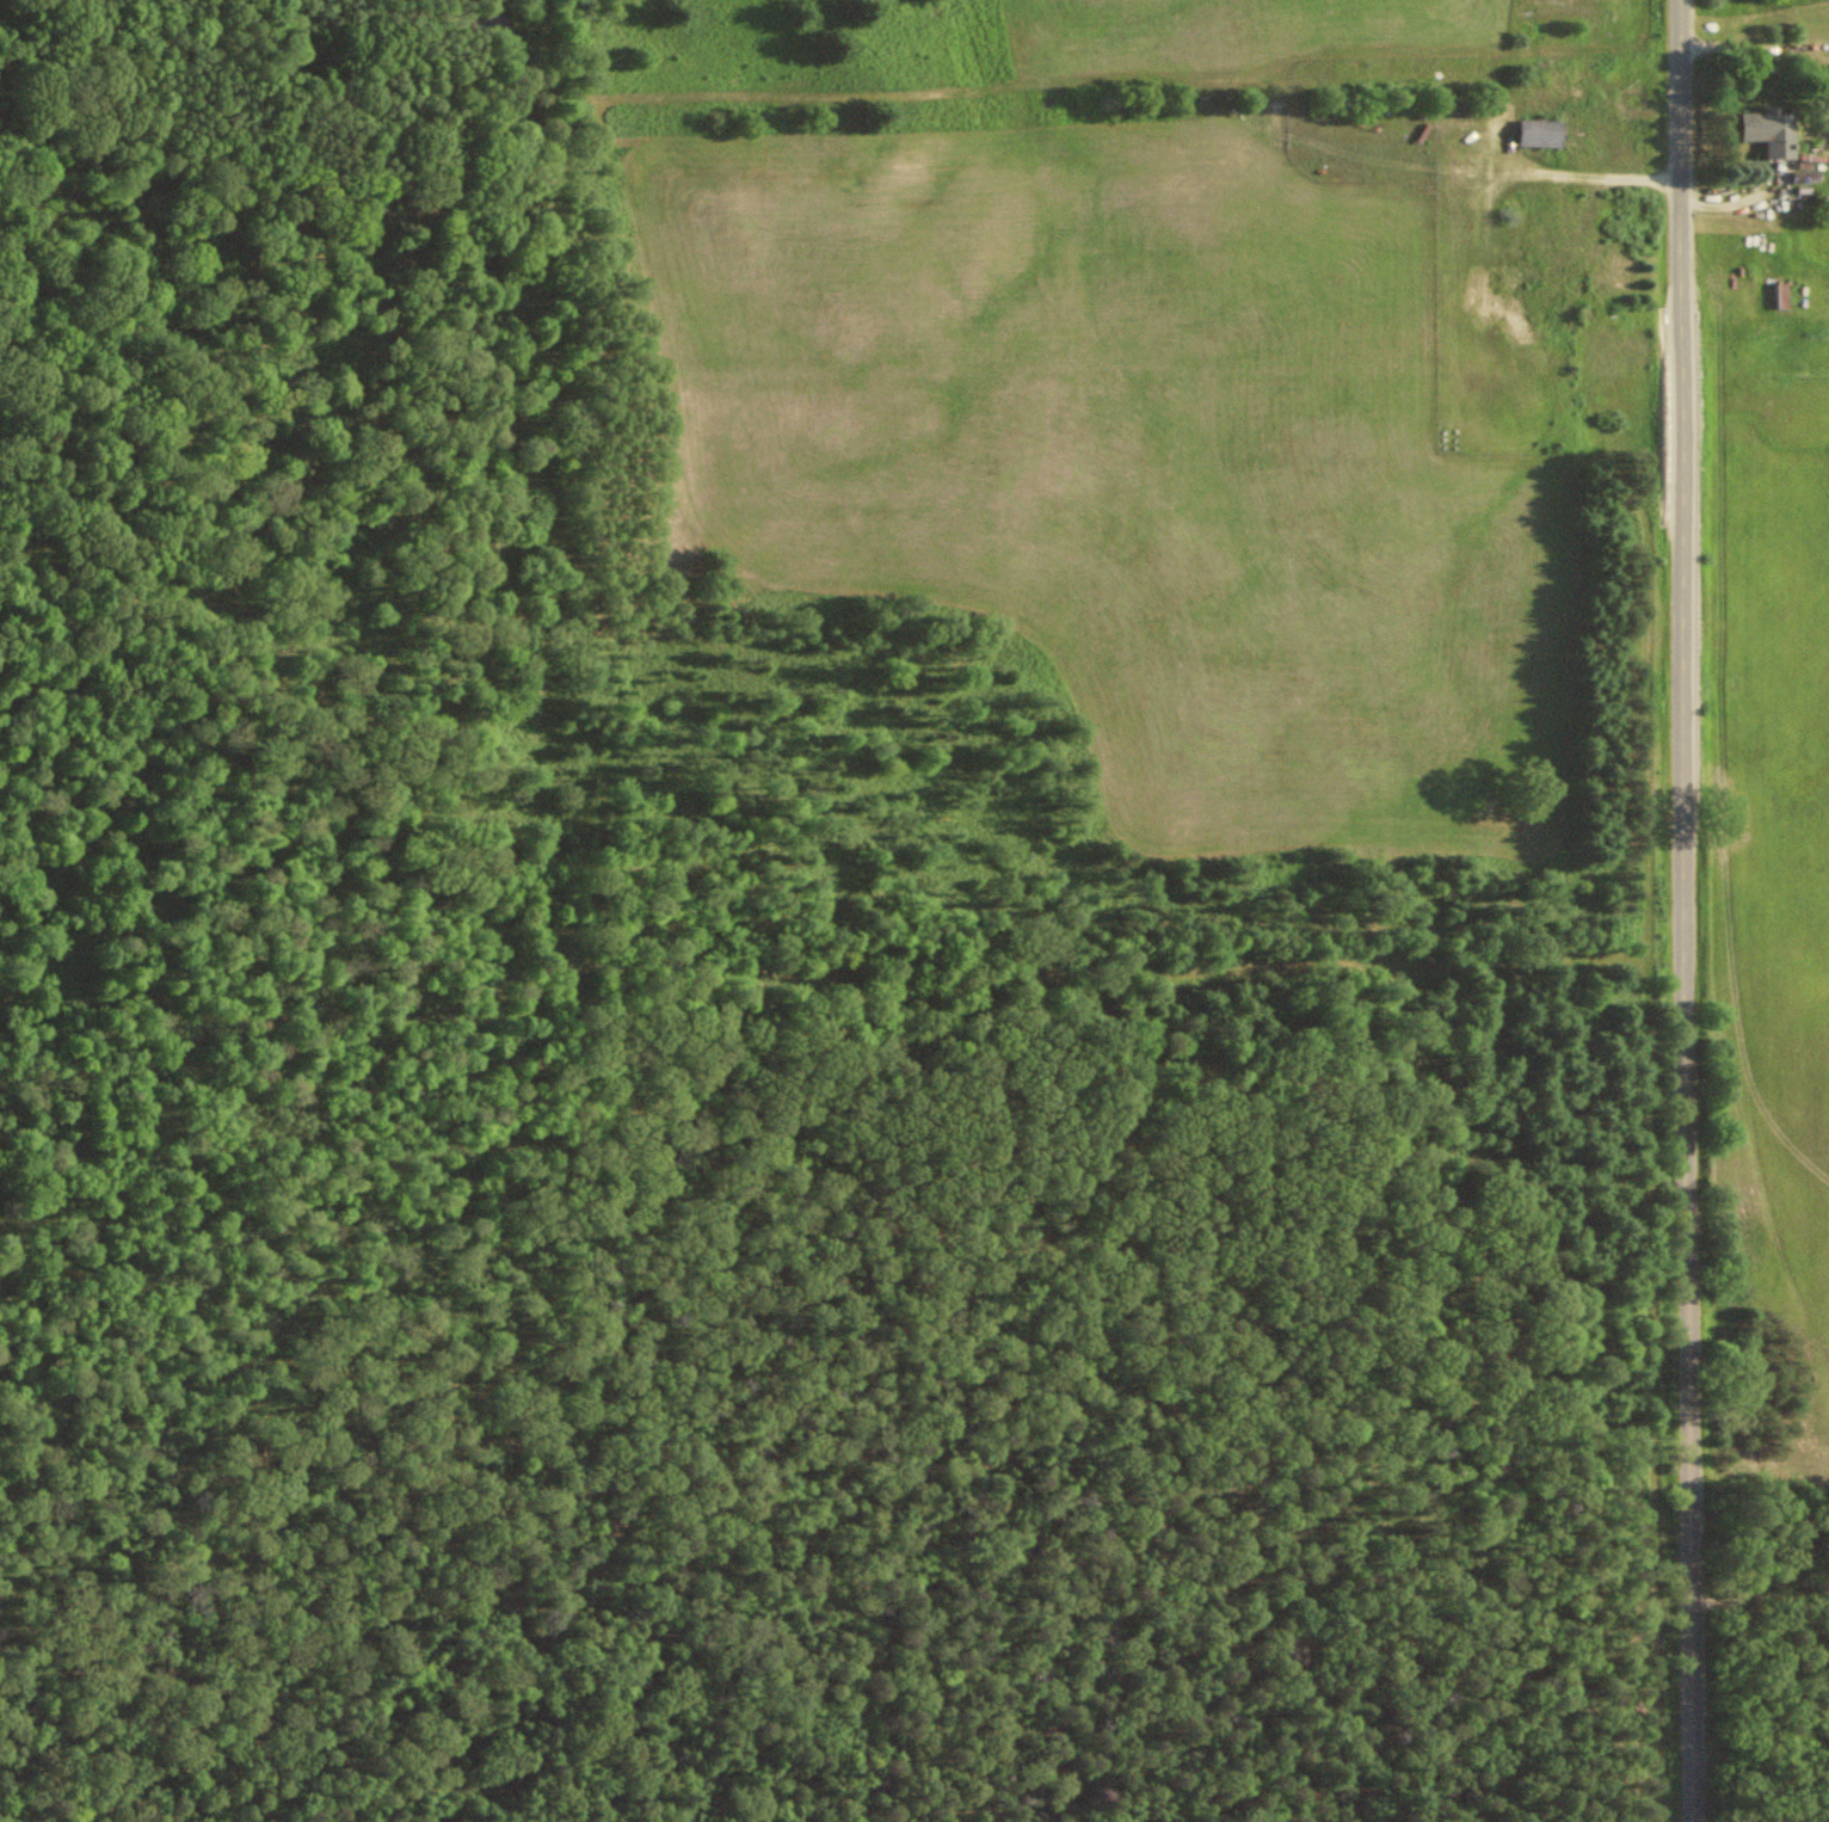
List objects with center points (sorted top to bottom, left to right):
building: (1564, 131)
building: (1763, 133)
building: (1550, 223)
building: (1578, 271)
building: (1778, 295)
road: (1693, 911)
road: (935, 961)

